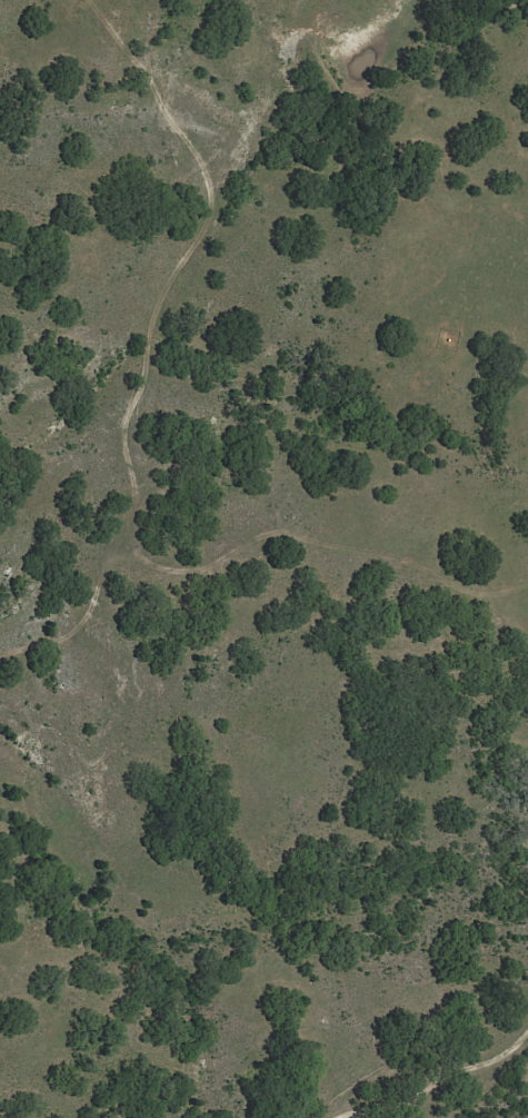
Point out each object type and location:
road: (447, 1077)

